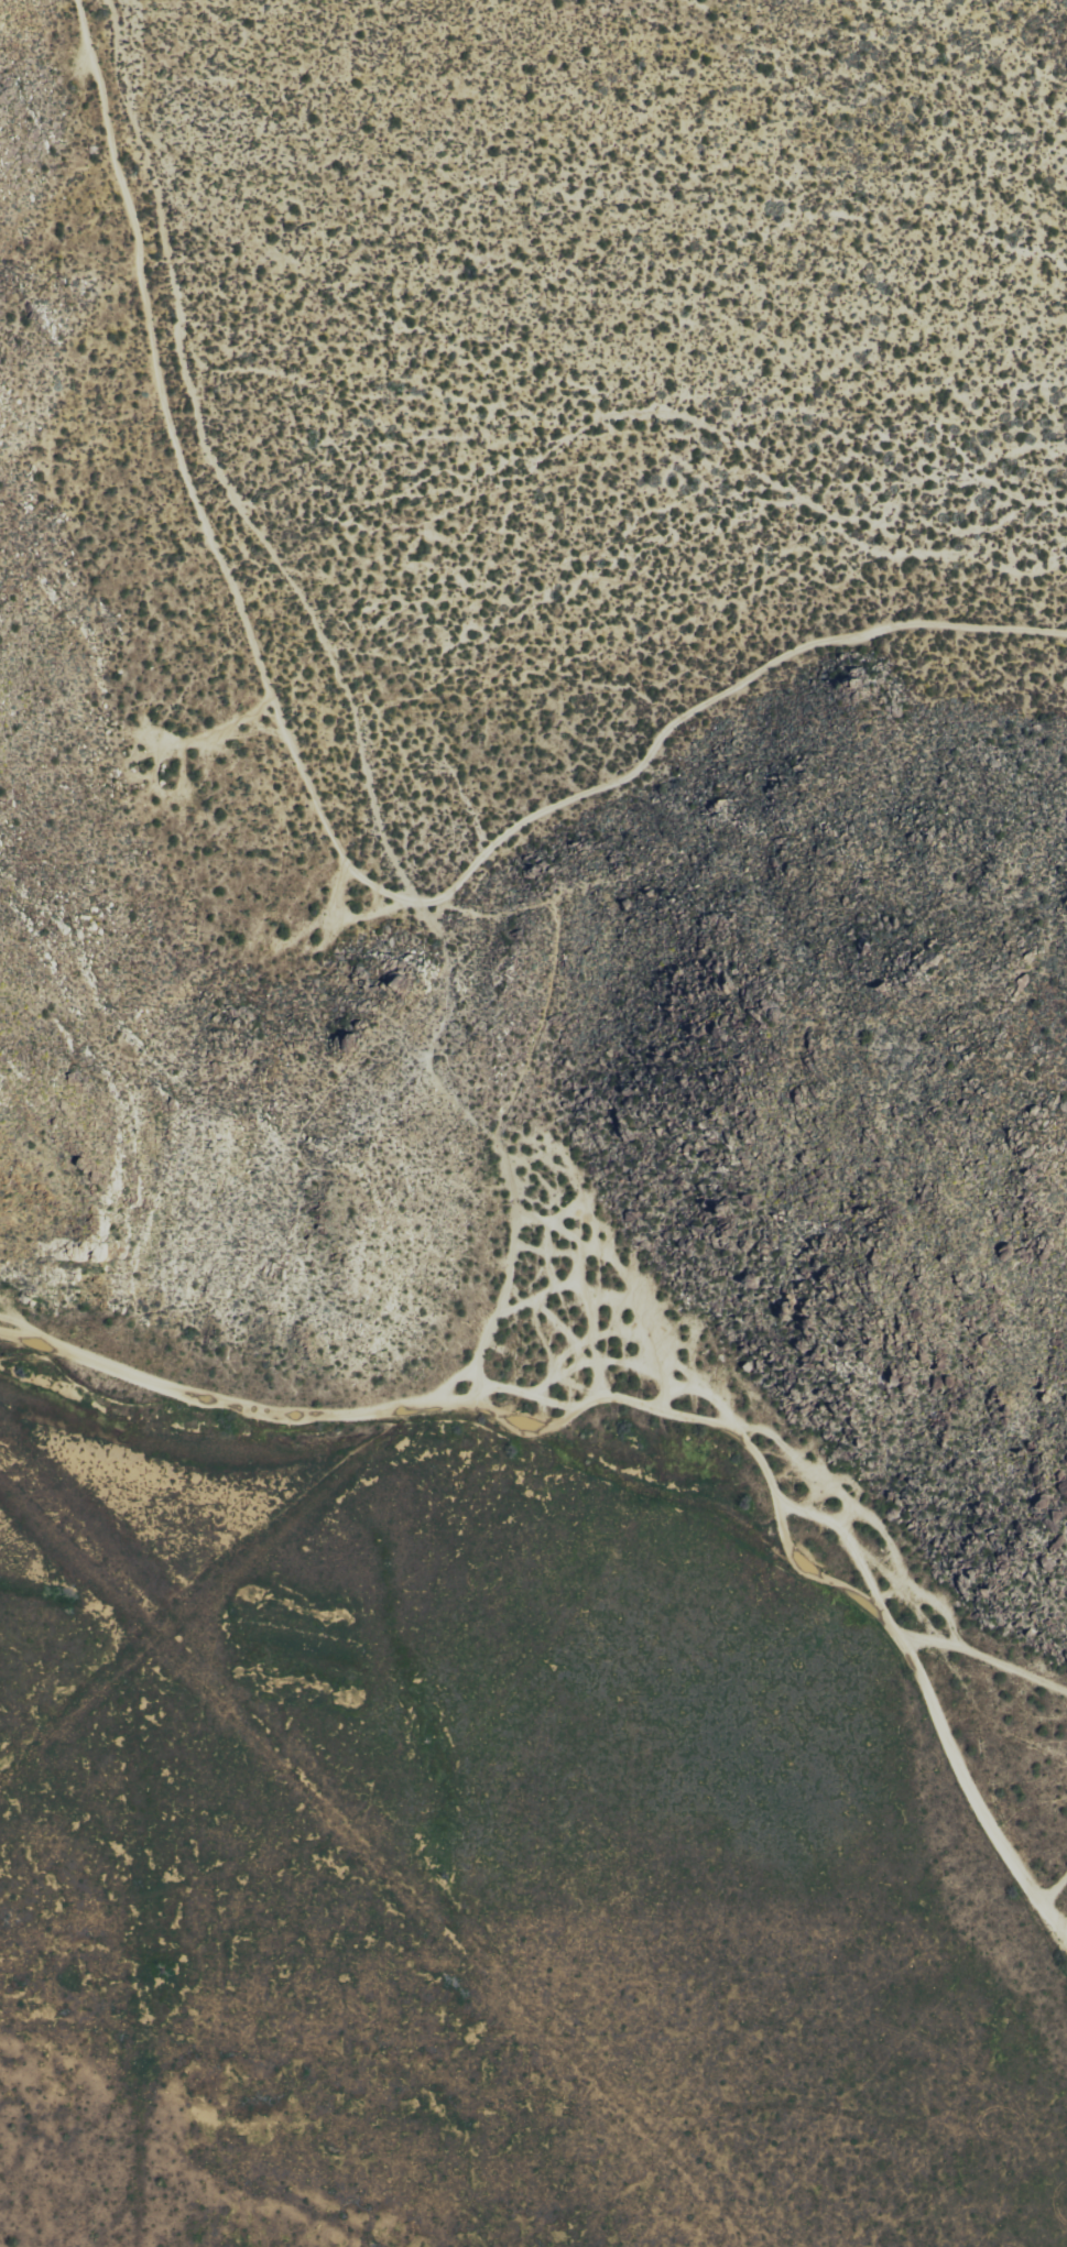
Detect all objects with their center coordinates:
road: (328, 658)
road: (324, 825)
road: (492, 1313)
road: (473, 1379)
road: (669, 1415)
road: (390, 1430)
airport runway: (177, 1615)
road: (984, 1656)
airport runway: (353, 1844)
road: (1054, 1887)

